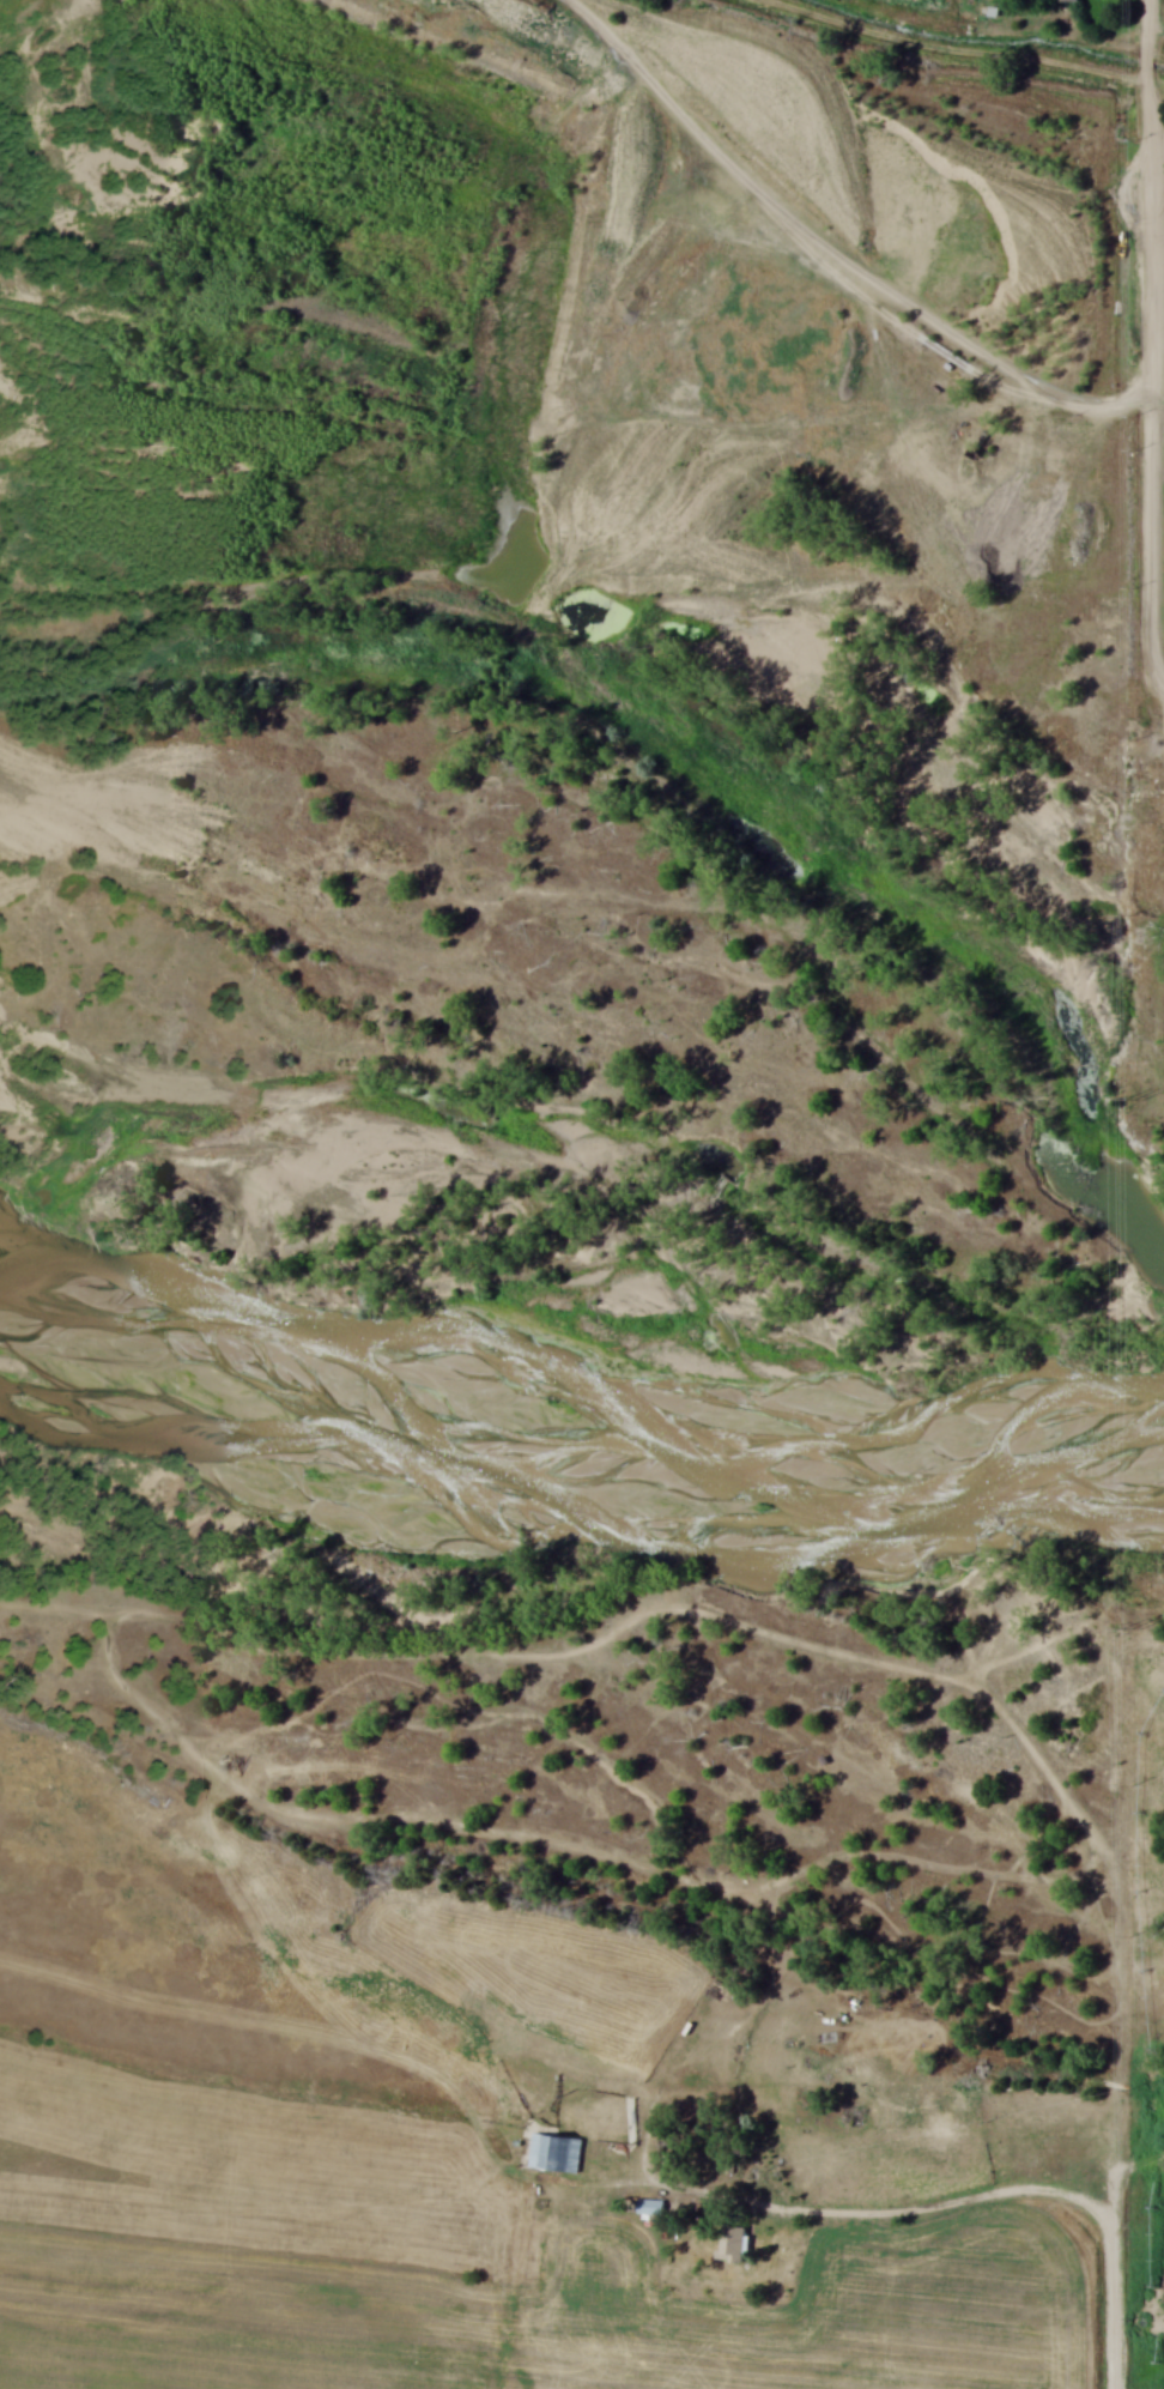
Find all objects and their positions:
road: (1157, 615)
road: (1162, 673)
river: (565, 1433)
road: (1117, 2006)
building: (554, 2154)
road: (934, 2207)
building: (649, 2208)
building: (729, 2246)

